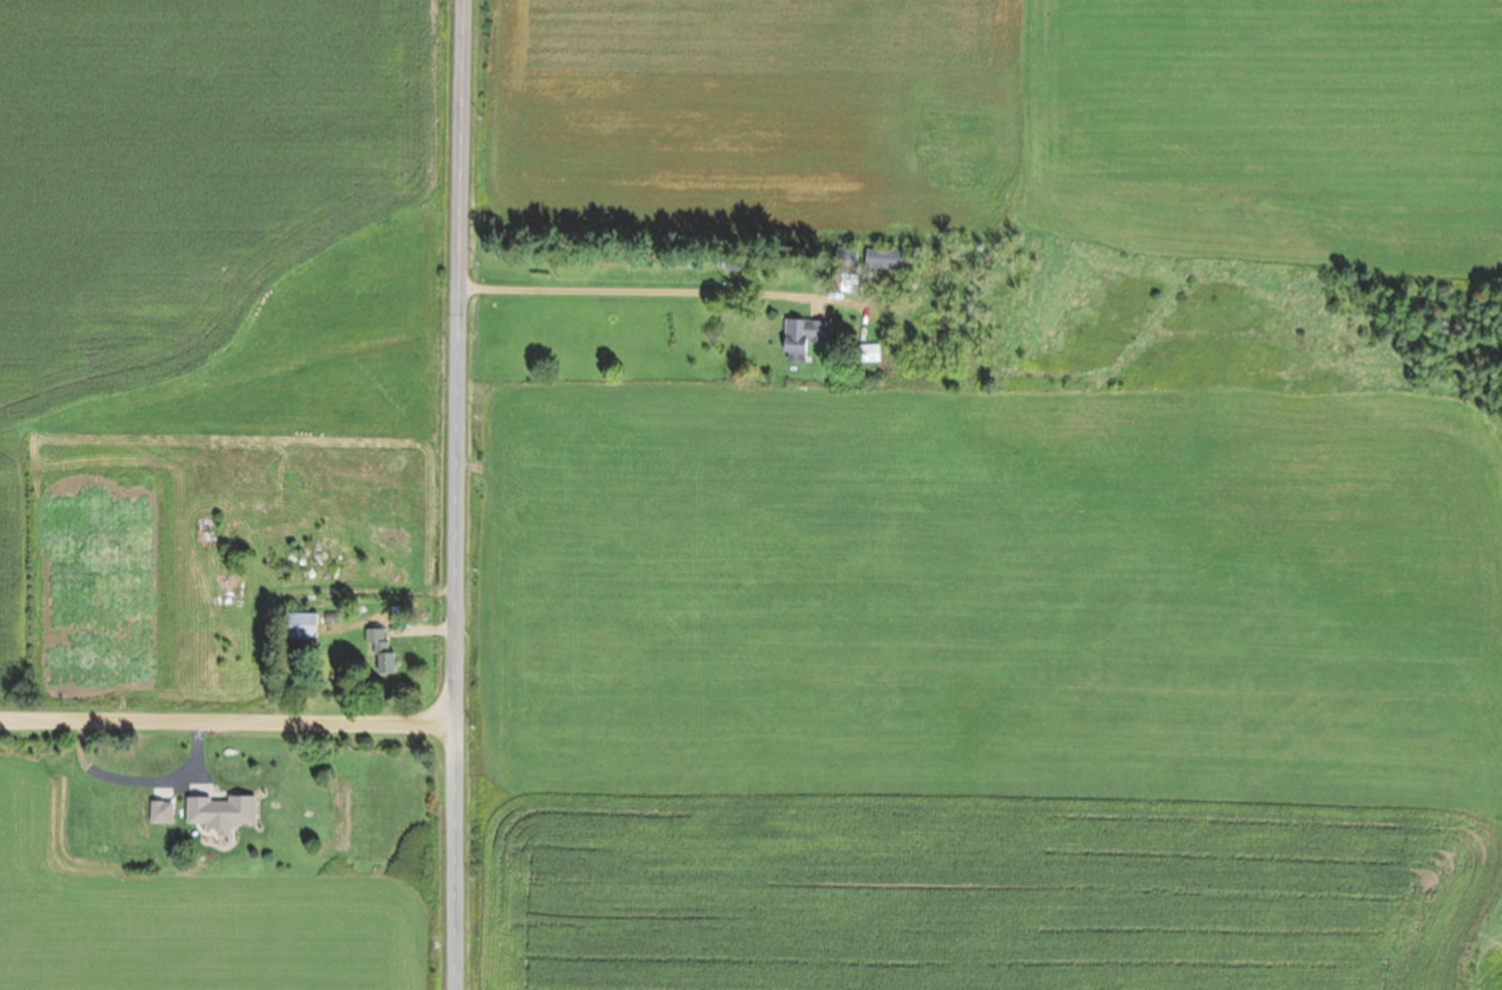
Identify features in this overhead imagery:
building: (802, 338)
building: (866, 353)
road: (456, 494)
building: (297, 626)
building: (379, 651)
road: (227, 723)
building: (159, 751)
building: (158, 813)
building: (218, 813)

